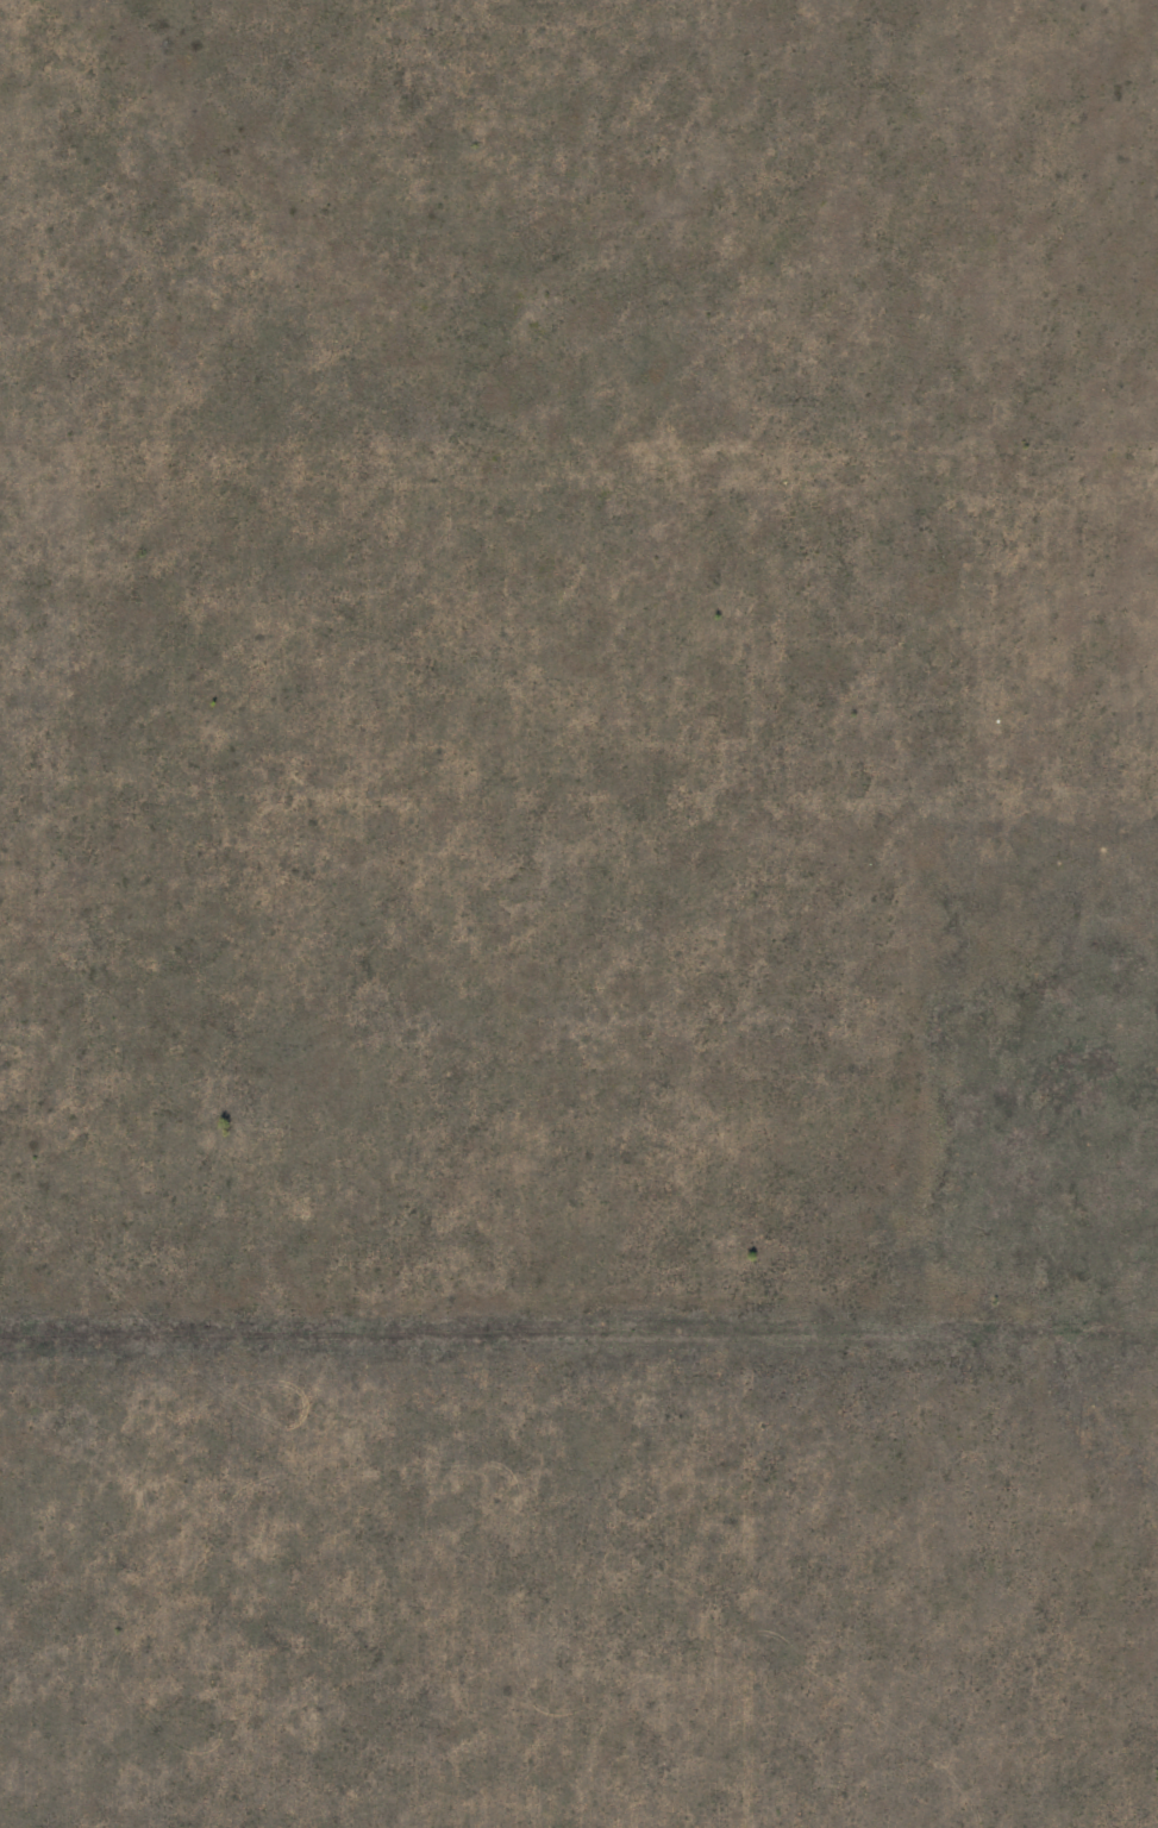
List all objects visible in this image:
road: (578, 1323)

